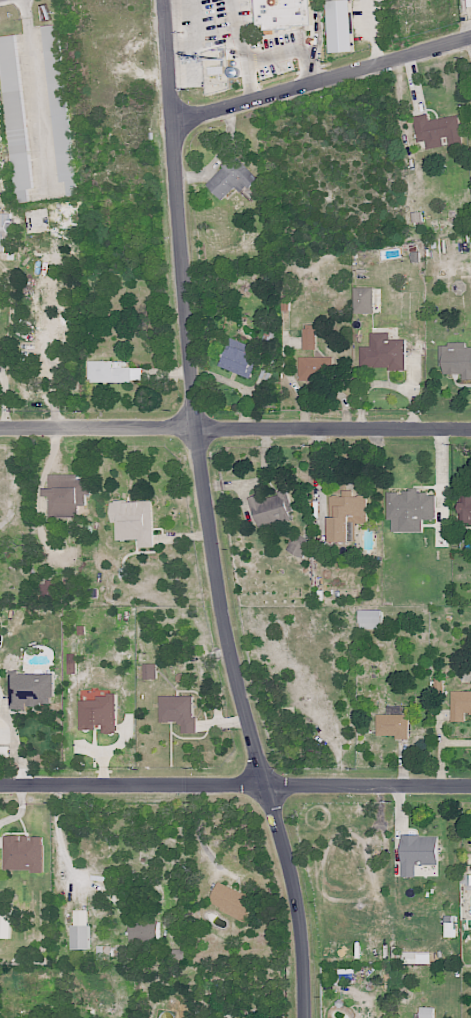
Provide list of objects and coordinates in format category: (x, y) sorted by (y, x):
road: (7, 1)
road: (470, 12)
building: (284, 13)
road: (194, 22)
road: (370, 23)
building: (339, 26)
road: (316, 28)
road: (237, 32)
road: (219, 39)
road: (276, 53)
road: (375, 55)
road: (309, 69)
road: (322, 80)
road: (249, 82)
road: (37, 94)
building: (59, 105)
building: (437, 131)
building: (231, 178)
building: (4, 228)
building: (363, 300)
road: (8, 318)
building: (308, 339)
building: (383, 352)
building: (239, 357)
building: (455, 359)
building: (315, 368)
building: (112, 372)
road: (9, 399)
road: (235, 431)
building: (65, 495)
building: (271, 508)
building: (466, 508)
building: (409, 510)
road: (207, 513)
building: (345, 516)
building: (132, 521)
building: (296, 548)
building: (48, 590)
building: (369, 619)
building: (149, 671)
building: (30, 689)
building: (460, 705)
building: (178, 711)
building: (98, 713)
building: (391, 725)
road: (235, 786)
road: (62, 842)
building: (417, 852)
building: (22, 853)
building: (232, 901)
building: (5, 923)
building: (80, 929)
building: (143, 929)
building: (450, 929)
building: (103, 952)
building: (426, 1012)
building: (224, 1017)

